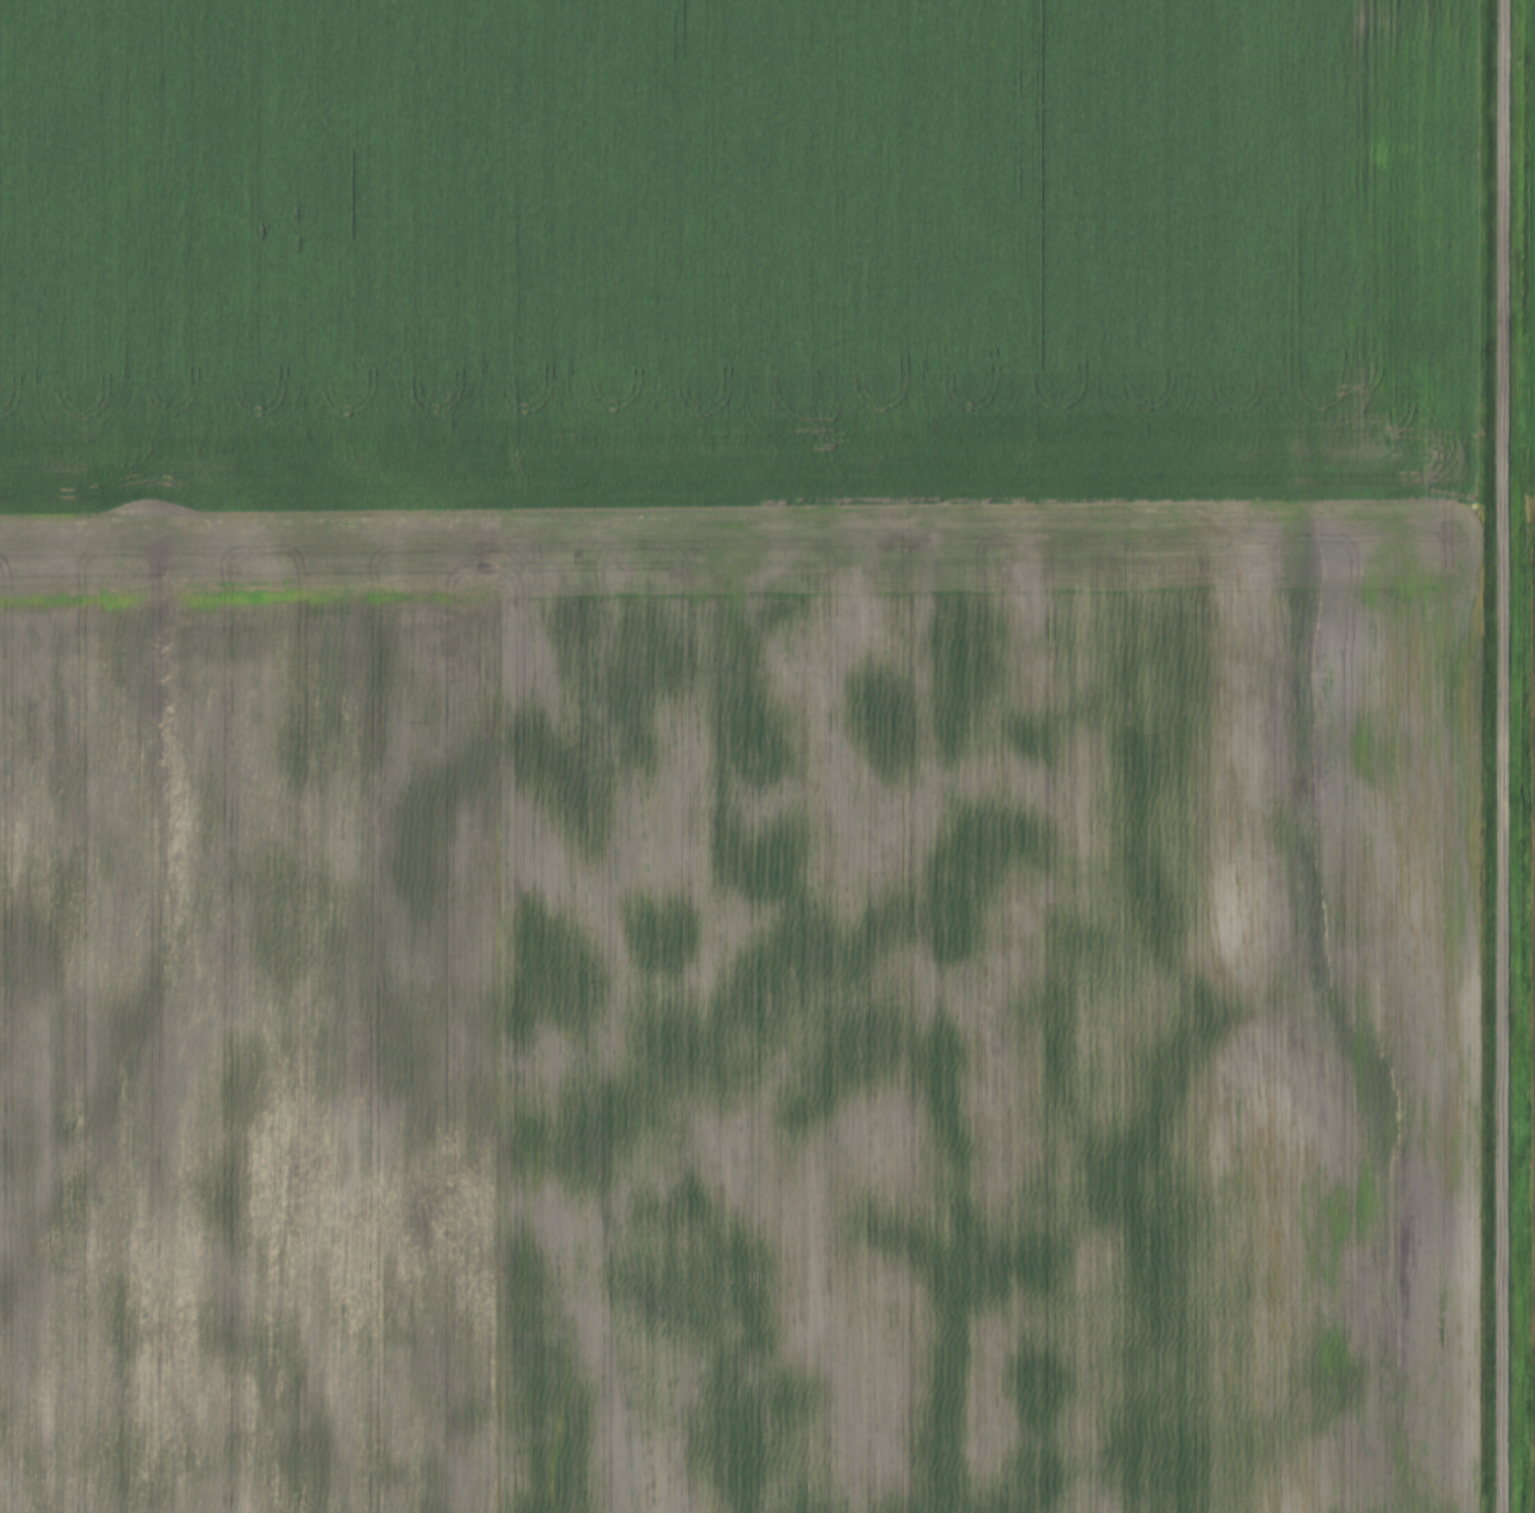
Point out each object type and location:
road: (1501, 756)

